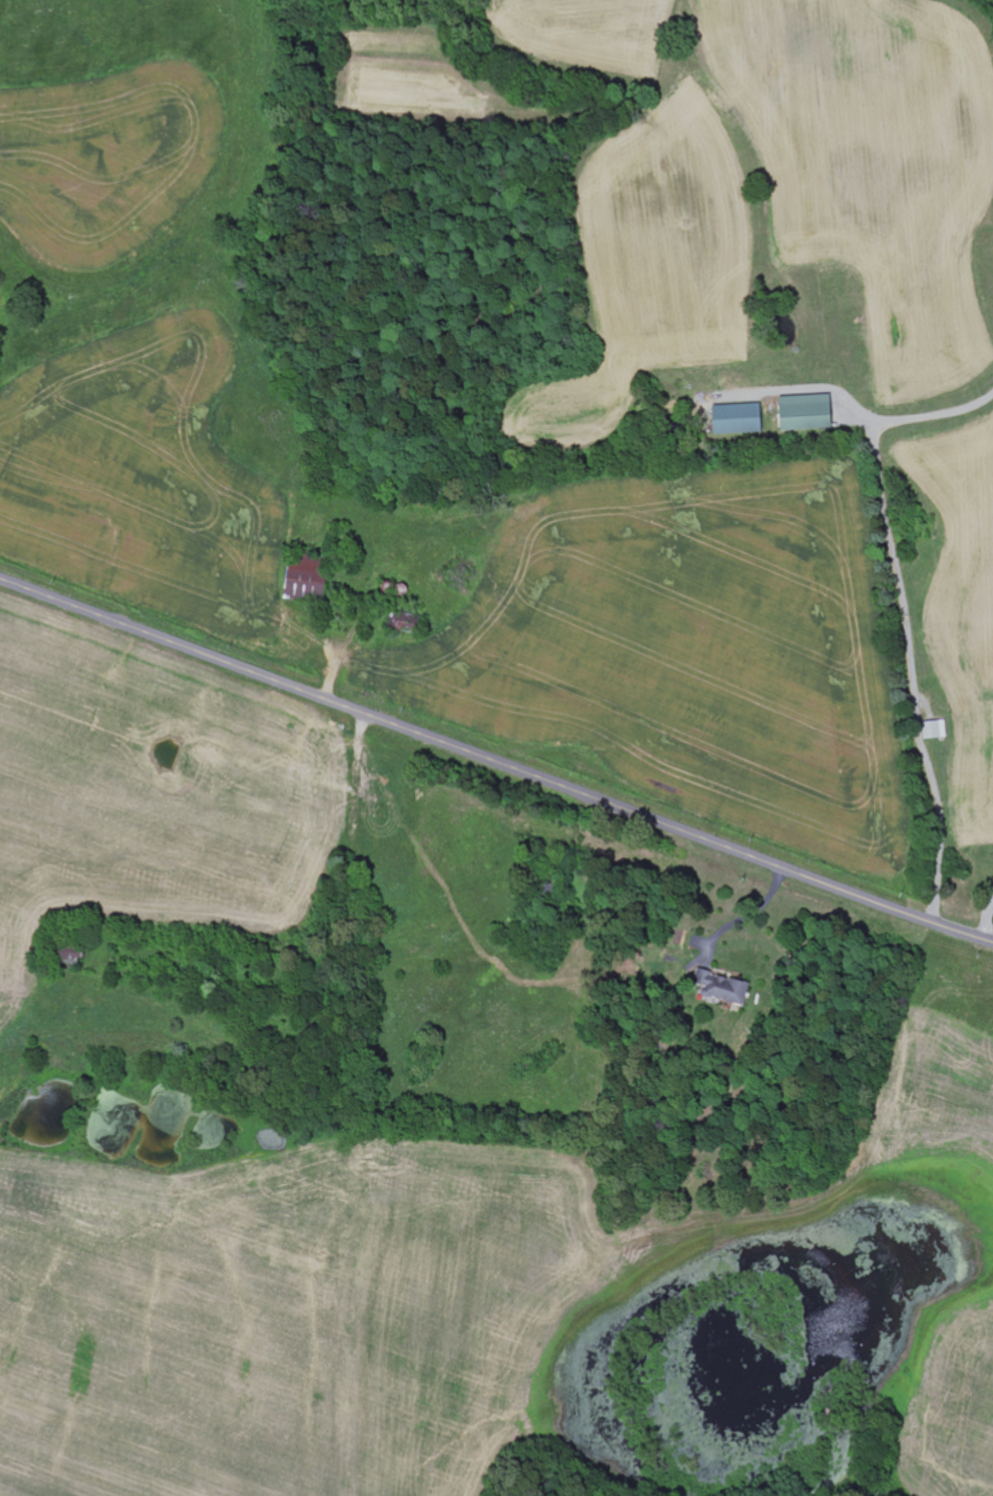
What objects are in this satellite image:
building: (812, 412)
building: (743, 419)
building: (311, 582)
road: (905, 614)
building: (938, 730)
road: (495, 761)
road: (987, 920)
building: (726, 988)

